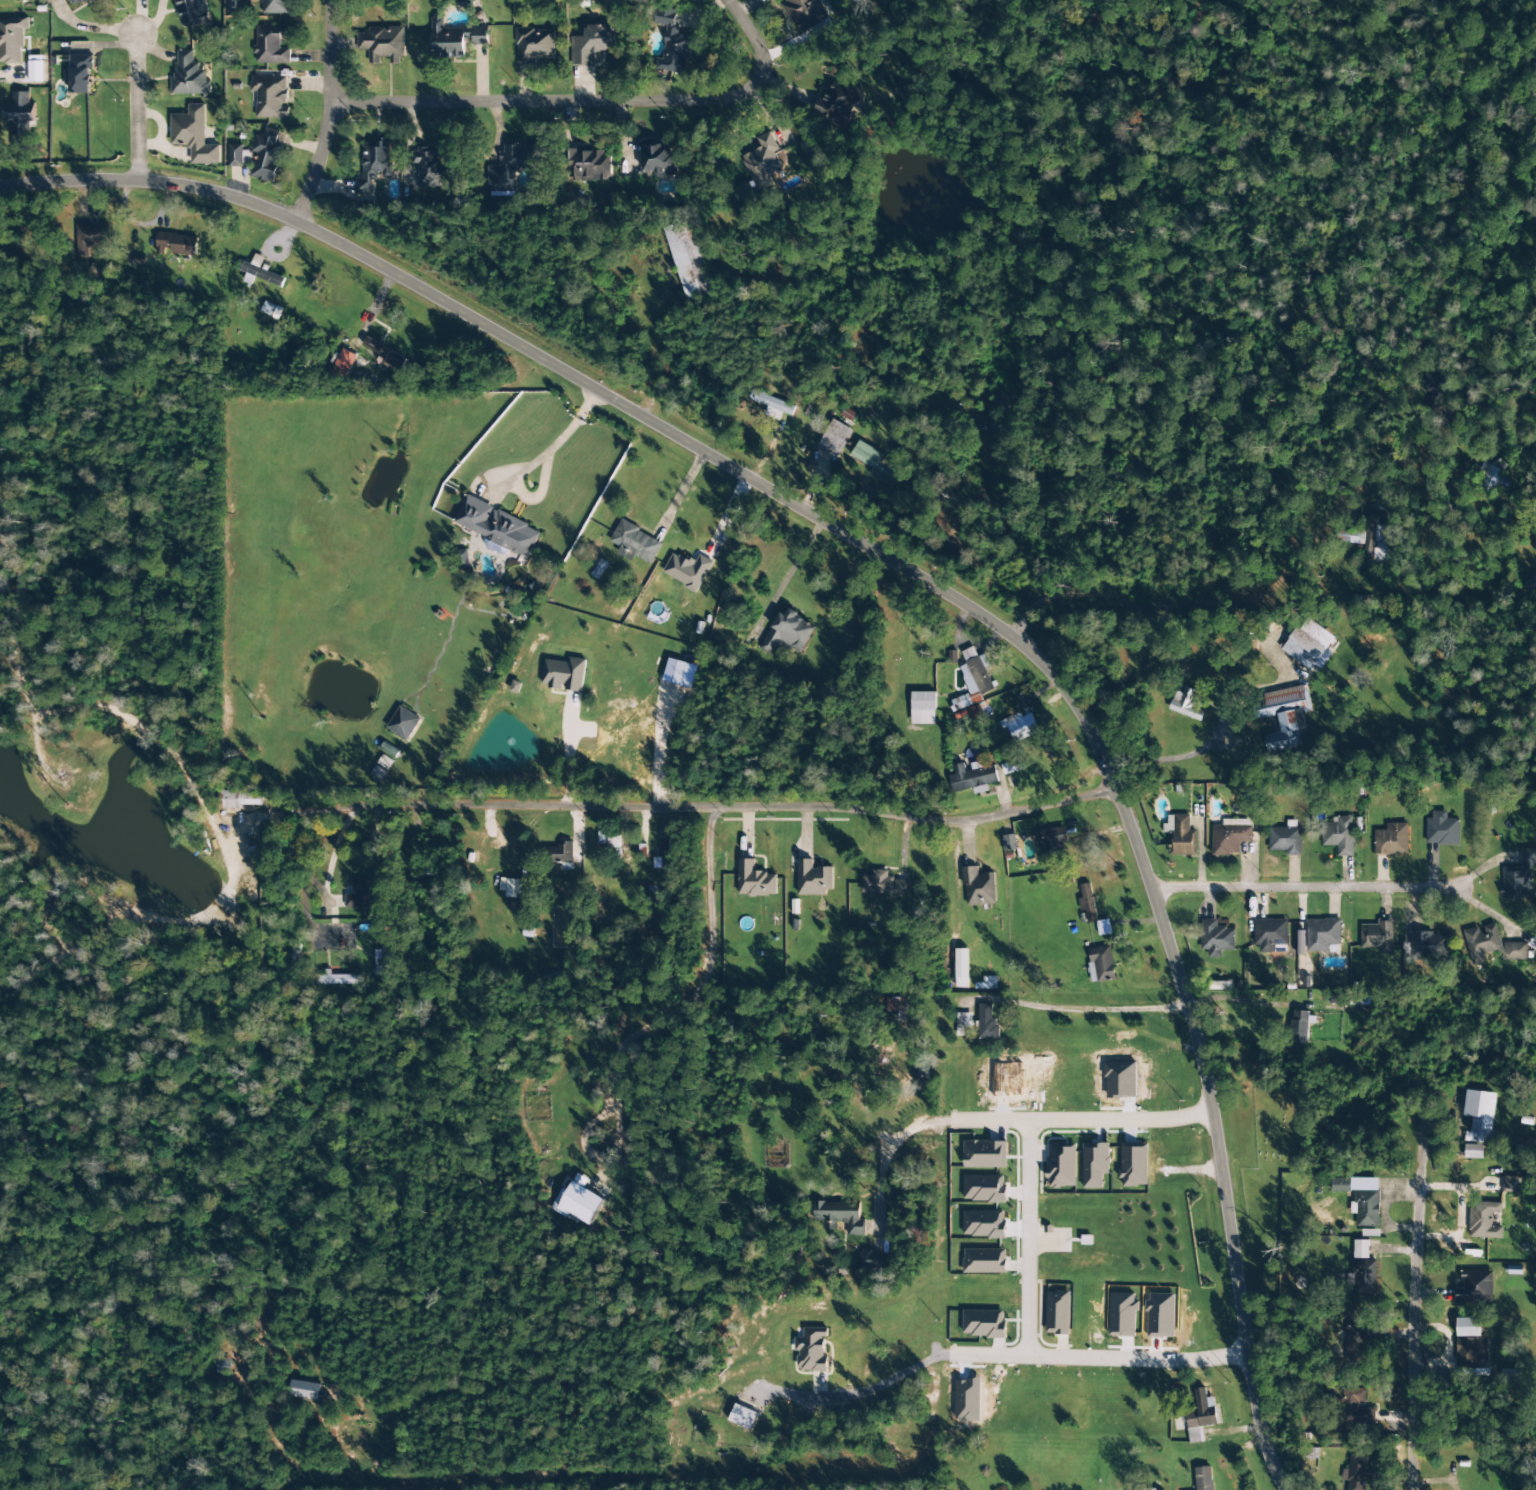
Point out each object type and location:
building: (24, 0)
building: (96, 1)
building: (76, 3)
building: (276, 7)
building: (800, 10)
building: (194, 12)
building: (12, 40)
building: (455, 40)
building: (672, 41)
building: (382, 44)
building: (592, 44)
building: (271, 45)
building: (535, 46)
building: (80, 74)
building: (189, 75)
building: (270, 97)
road: (542, 103)
building: (837, 104)
road: (135, 106)
building: (20, 119)
building: (194, 135)
building: (267, 154)
building: (239, 156)
building: (658, 159)
road: (315, 163)
building: (374, 165)
building: (589, 166)
building: (430, 167)
building: (511, 167)
building: (760, 168)
building: (90, 239)
building: (177, 244)
building: (688, 260)
building: (262, 271)
building: (385, 355)
building: (344, 364)
building: (1434, 388)
building: (771, 403)
building: (835, 438)
building: (866, 455)
building: (1490, 476)
building: (497, 527)
building: (1368, 540)
building: (635, 543)
building: (463, 559)
building: (688, 571)
road: (917, 577)
building: (1531, 586)
building: (787, 633)
building: (1309, 645)
building: (564, 675)
building: (974, 679)
building: (516, 687)
building: (1023, 701)
building: (1185, 705)
building: (923, 708)
building: (1285, 717)
building: (403, 723)
building: (1020, 727)
building: (1013, 767)
building: (974, 778)
road: (648, 794)
building: (241, 800)
building: (1441, 830)
building: (1181, 835)
building: (1230, 836)
building: (1339, 836)
building: (1285, 840)
building: (1392, 840)
building: (1052, 842)
building: (1009, 843)
building: (558, 853)
building: (665, 854)
building: (1518, 877)
building: (814, 879)
building: (755, 881)
building: (883, 884)
building: (513, 887)
building: (978, 887)
road: (1340, 890)
building: (363, 895)
building: (1088, 904)
road: (1489, 918)
building: (1103, 928)
building: (1270, 934)
building: (1322, 935)
building: (1216, 937)
building: (1377, 937)
building: (1482, 943)
building: (1532, 943)
building: (1425, 947)
building: (1516, 951)
building: (384, 960)
building: (1100, 964)
building: (962, 968)
building: (335, 979)
building: (987, 983)
building: (963, 1020)
building: (987, 1023)
building: (1299, 1027)
building: (1480, 1116)
road: (1080, 1120)
building: (1473, 1151)
building: (985, 1154)
road: (1418, 1160)
building: (1061, 1165)
building: (1094, 1165)
building: (1133, 1166)
building: (1340, 1185)
building: (1511, 1185)
building: (984, 1188)
building: (577, 1201)
building: (1367, 1208)
building: (839, 1216)
building: (1484, 1220)
building: (984, 1224)
building: (1360, 1249)
building: (872, 1260)
building: (984, 1261)
building: (1363, 1277)
building: (1475, 1288)
building: (1057, 1313)
building: (983, 1323)
road: (1027, 1344)
building: (1355, 1346)
building: (1470, 1346)
building: (811, 1350)
building: (304, 1390)
building: (1355, 1408)
building: (744, 1415)
building: (1200, 1416)
building: (1356, 1473)
building: (1203, 1478)
building: (1142, 1489)

